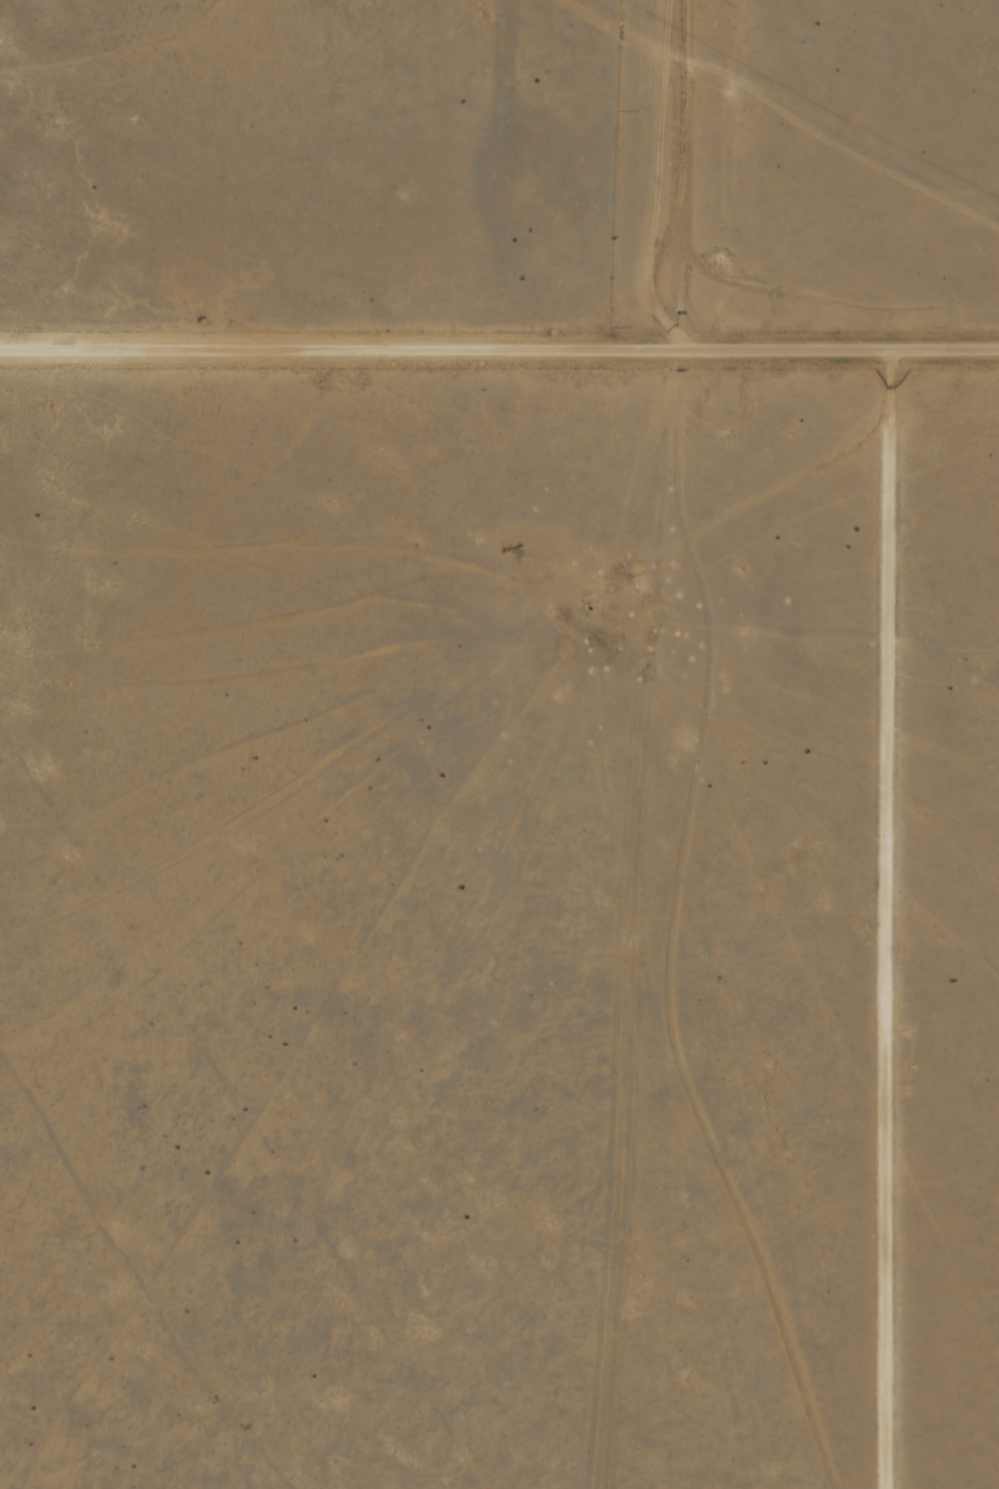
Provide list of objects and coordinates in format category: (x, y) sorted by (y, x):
road: (499, 341)
road: (655, 916)

